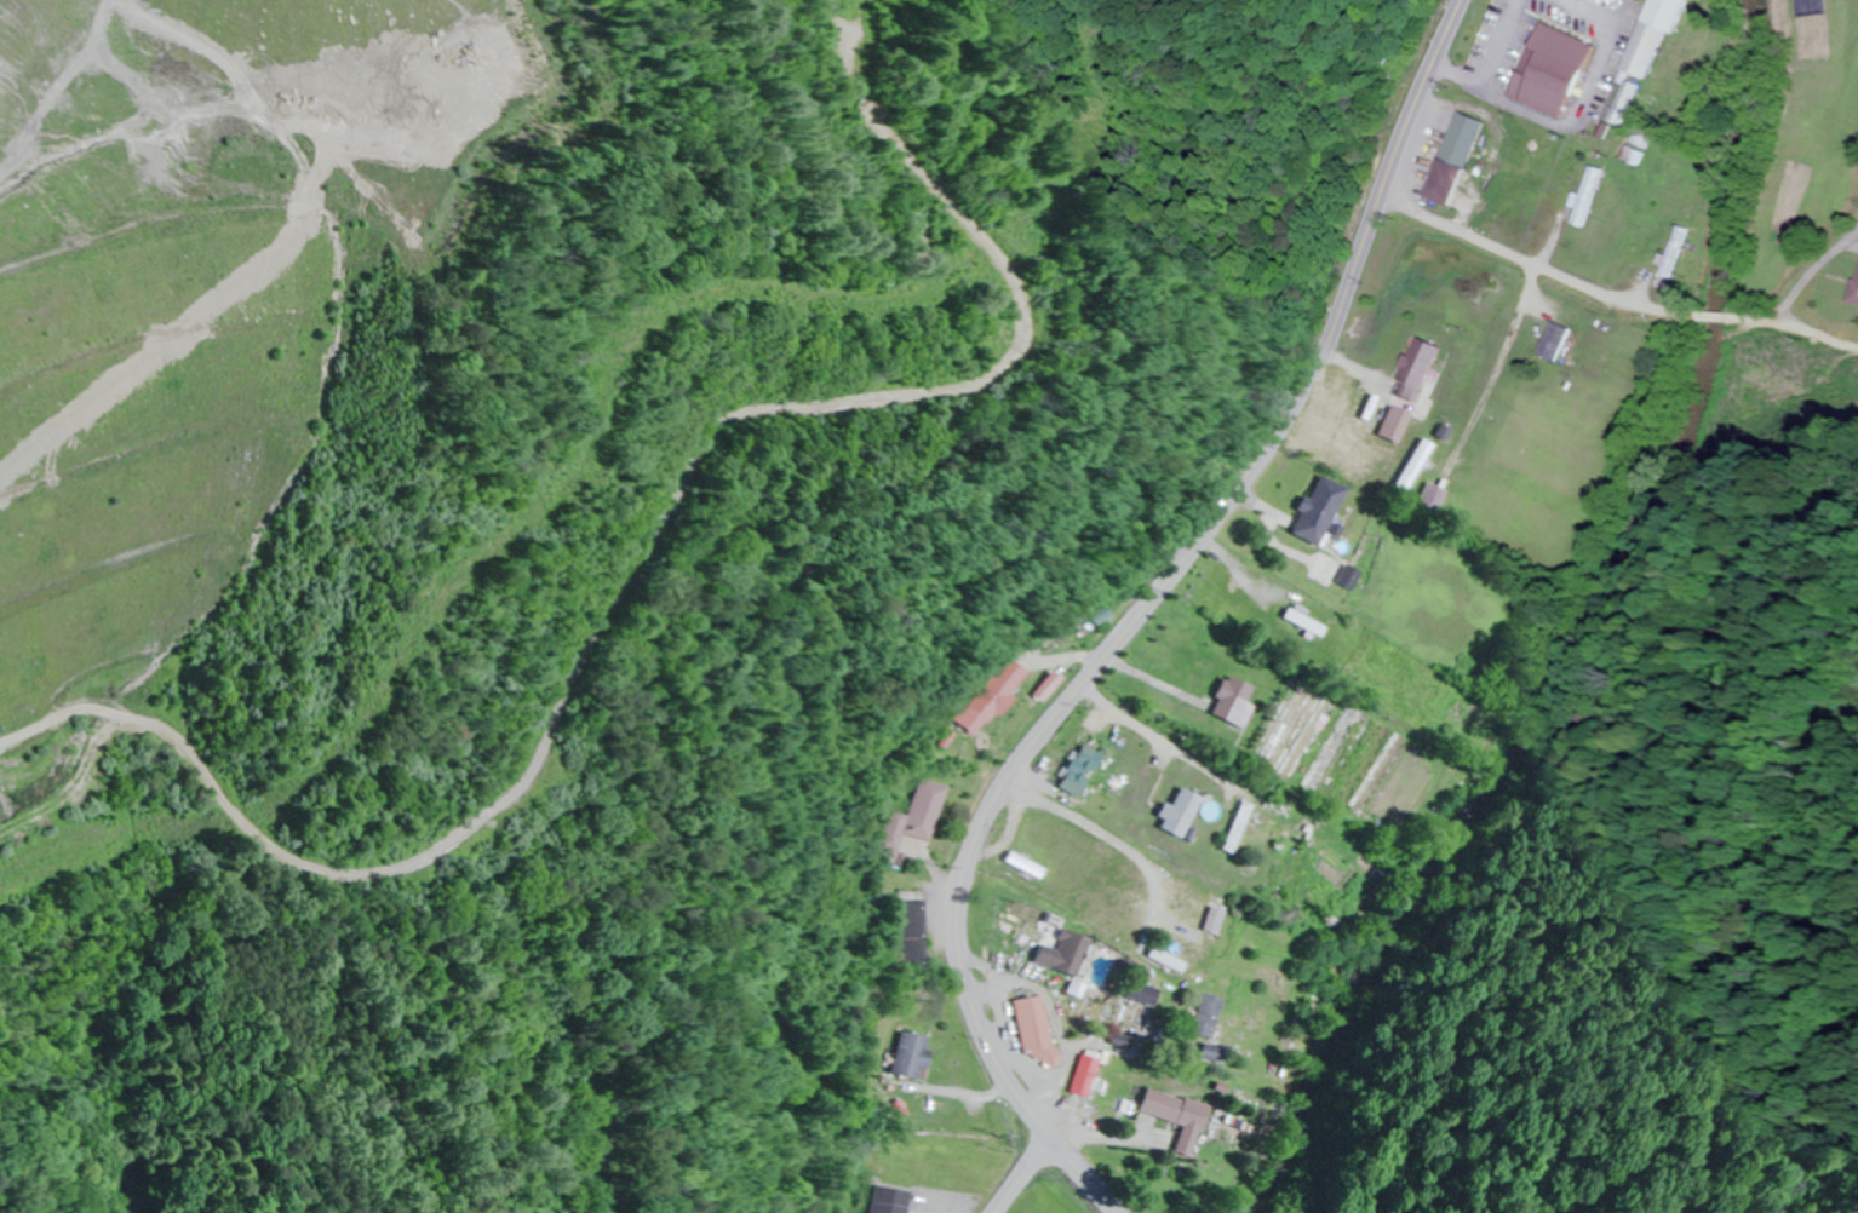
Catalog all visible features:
building: (1652, 35)
building: (1549, 69)
building: (1526, 154)
building: (1450, 159)
building: (1585, 196)
building: (1675, 252)
building: (1854, 294)
road: (1612, 297)
building: (1553, 341)
building: (1412, 370)
building: (1390, 424)
building: (1417, 479)
building: (1315, 510)
road: (1174, 575)
building: (1342, 576)
building: (1094, 613)
building: (1301, 622)
building: (1228, 701)
building: (984, 703)
building: (1076, 769)
building: (1169, 807)
building: (917, 821)
building: (1235, 828)
building: (1210, 920)
building: (916, 931)
building: (1060, 954)
building: (1131, 1006)
building: (1034, 1028)
building: (924, 1054)
building: (1082, 1075)
building: (1171, 1117)
road: (1027, 1174)
road: (1086, 1174)
building: (898, 1200)

